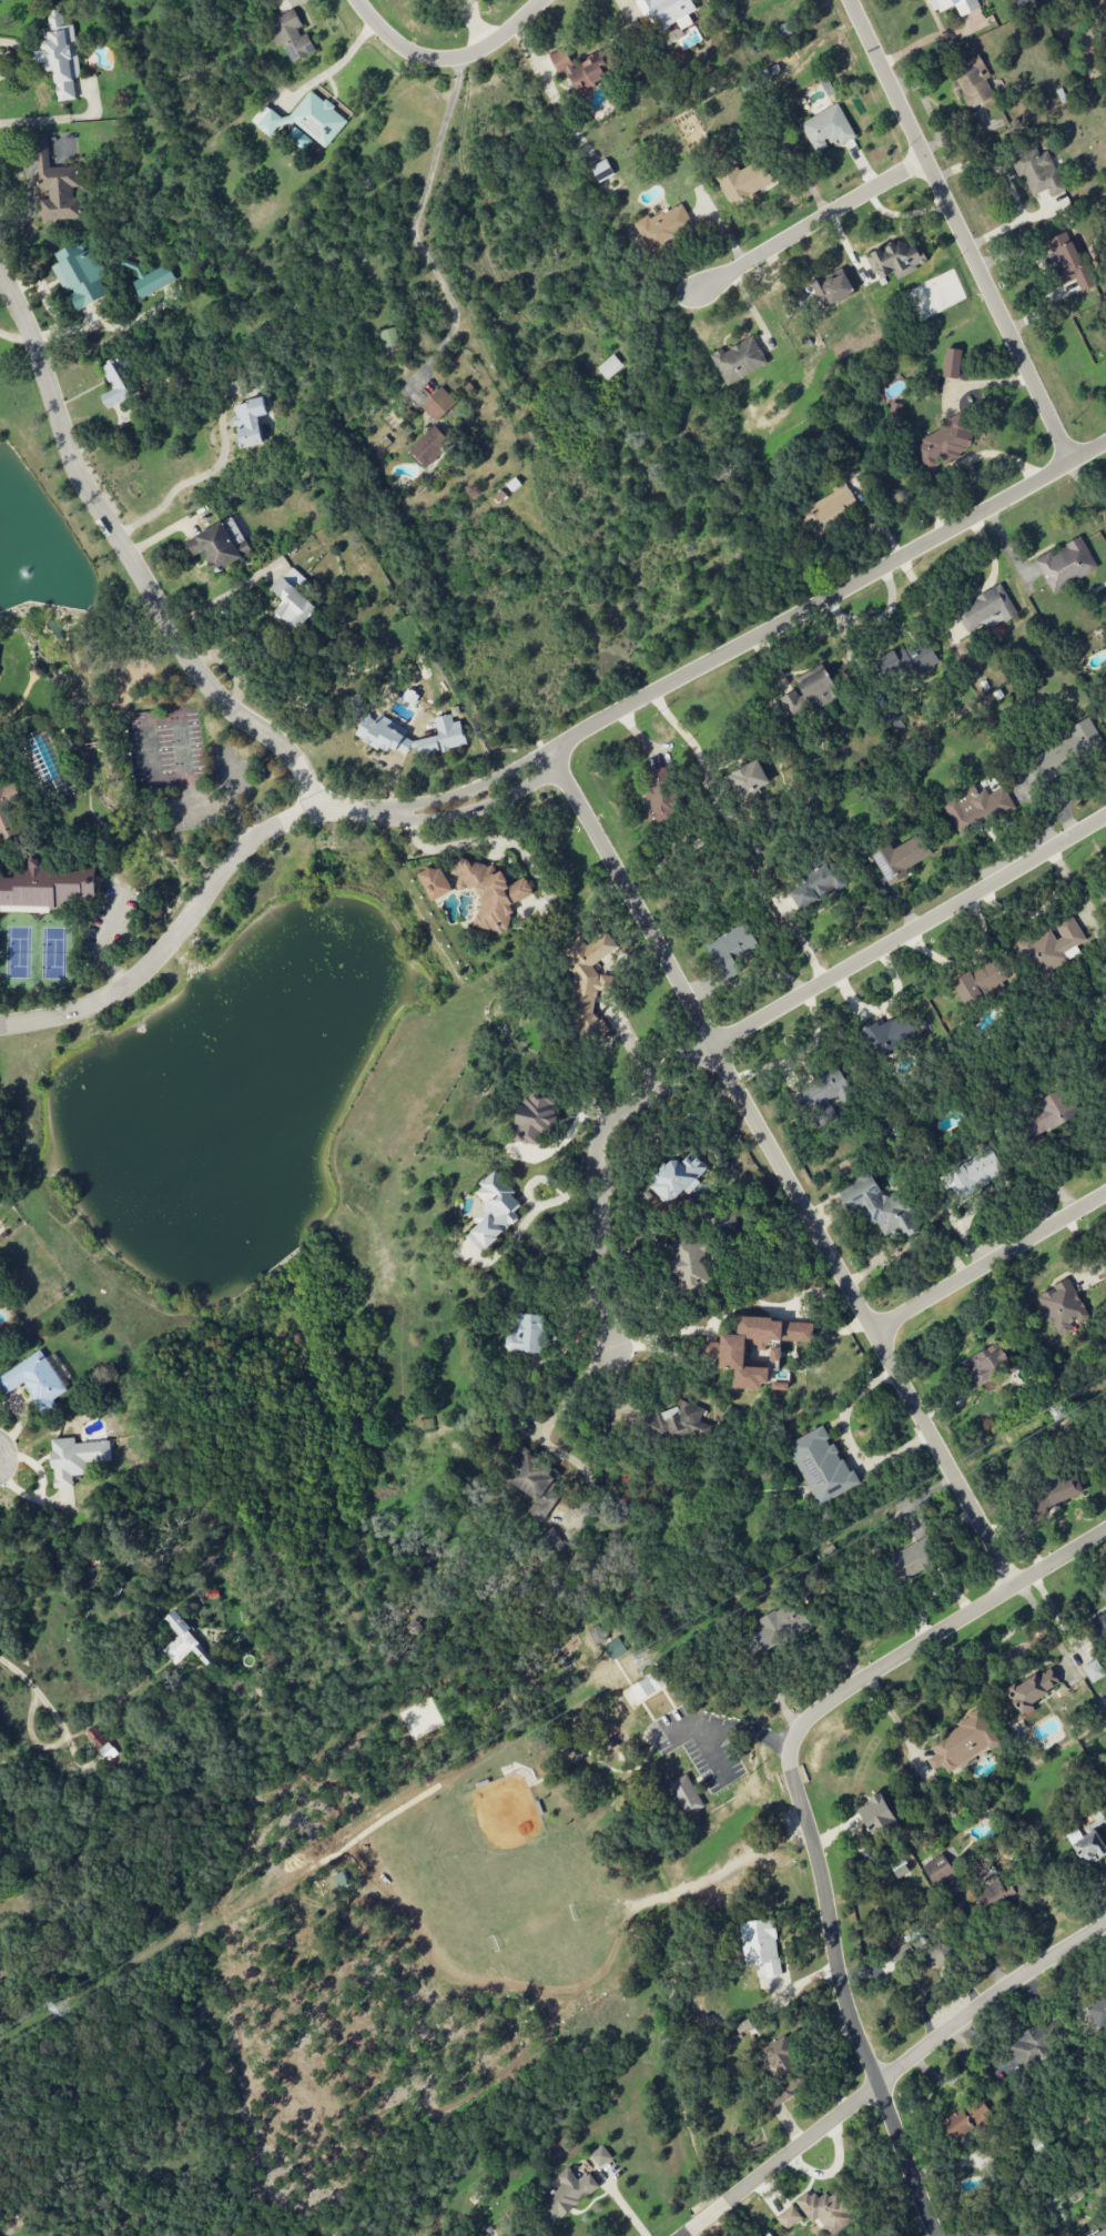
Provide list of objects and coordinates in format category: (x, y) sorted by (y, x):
building: (955, 6)
building: (667, 12)
building: (785, 29)
building: (291, 36)
building: (60, 55)
road: (448, 62)
building: (585, 69)
road: (328, 71)
building: (973, 81)
building: (305, 119)
building: (826, 129)
building: (601, 171)
building: (1038, 172)
building: (744, 180)
building: (55, 184)
road: (1007, 188)
road: (30, 189)
building: (663, 225)
road: (410, 230)
road: (802, 233)
road: (960, 233)
building: (895, 260)
building: (1069, 261)
building: (80, 275)
building: (152, 280)
building: (833, 286)
road: (42, 294)
road: (109, 328)
road: (14, 336)
building: (388, 337)
building: (739, 361)
building: (952, 363)
building: (610, 366)
building: (118, 384)
building: (438, 404)
building: (250, 422)
building: (945, 444)
building: (428, 446)
road: (962, 461)
road: (190, 483)
building: (828, 510)
building: (221, 545)
road: (129, 561)
building: (1066, 565)
building: (294, 599)
road: (215, 604)
road: (826, 604)
building: (985, 610)
building: (907, 661)
building: (809, 694)
building: (385, 735)
building: (443, 737)
road: (684, 737)
building: (1068, 748)
building: (748, 779)
building: (659, 795)
building: (976, 808)
road: (439, 811)
road: (476, 841)
building: (900, 859)
building: (435, 882)
building: (815, 884)
building: (47, 886)
building: (490, 892)
building: (1104, 898)
road: (909, 937)
road: (172, 942)
road: (100, 945)
building: (1049, 945)
building: (731, 949)
building: (981, 981)
building: (586, 985)
building: (887, 1034)
building: (822, 1093)
building: (1047, 1114)
building: (534, 1116)
road: (567, 1131)
building: (975, 1172)
road: (784, 1174)
building: (677, 1177)
road: (597, 1184)
building: (879, 1206)
building: (494, 1211)
road: (522, 1217)
building: (690, 1266)
road: (990, 1267)
building: (1062, 1307)
road: (707, 1327)
building: (528, 1335)
building: (724, 1354)
building: (775, 1354)
building: (984, 1368)
building: (34, 1380)
power tower: (1053, 1414)
building: (676, 1424)
building: (75, 1458)
building: (821, 1466)
building: (531, 1478)
road: (0, 1480)
building: (1053, 1493)
building: (911, 1560)
road: (1058, 1564)
road: (1058, 1621)
building: (1102, 1625)
building: (781, 1627)
road: (1047, 1629)
building: (597, 1635)
building: (184, 1642)
building: (615, 1649)
power tower: (640, 1661)
building: (1094, 1671)
building: (649, 1686)
building: (1034, 1688)
road: (34, 1696)
road: (722, 1719)
road: (894, 1723)
building: (100, 1743)
building: (962, 1743)
building: (684, 1795)
building: (875, 1814)
building: (1087, 1847)
road: (818, 1864)
building: (940, 1871)
building: (996, 1888)
building: (760, 1946)
power tower: (58, 2011)
building: (1098, 2011)
building: (1034, 2041)
building: (782, 2072)
road: (893, 2077)
building: (965, 2118)
building: (600, 2156)
building: (568, 2194)
building: (825, 2212)
building: (789, 2218)
building: (1100, 2233)

